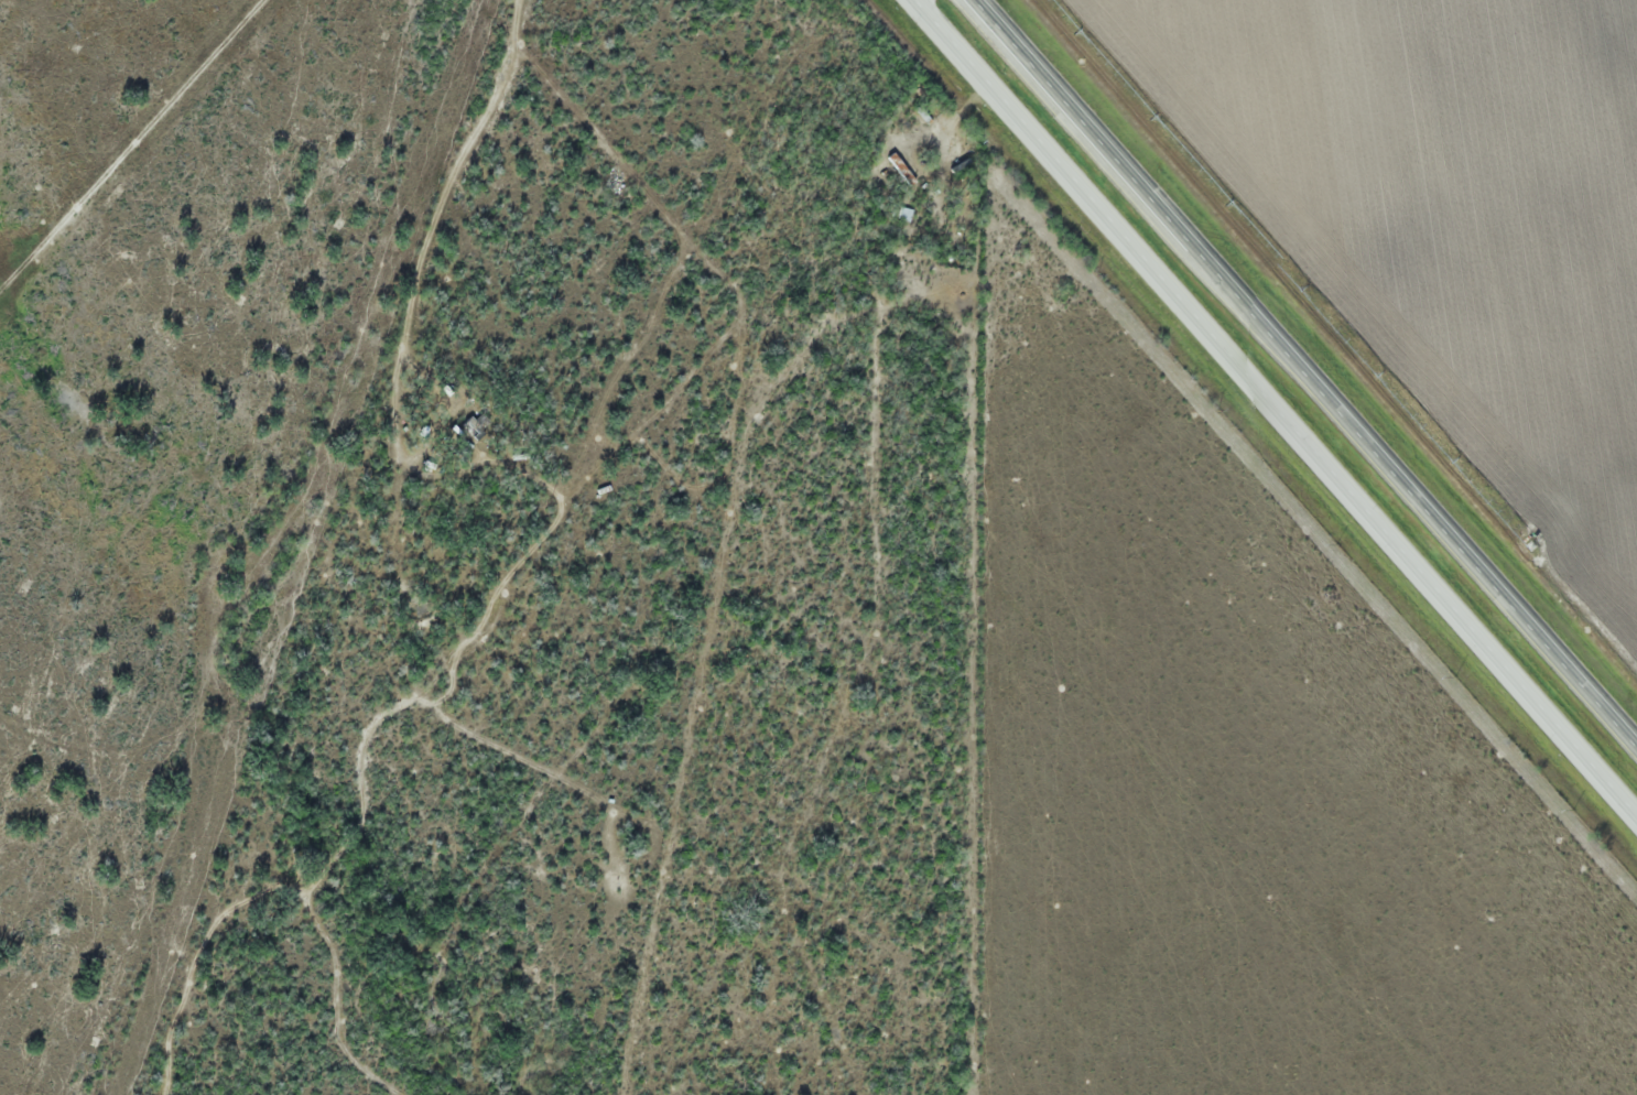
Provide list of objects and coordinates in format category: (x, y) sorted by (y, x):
building: (901, 167)
road: (433, 221)
road: (1310, 369)
road: (1276, 404)
building: (479, 426)

